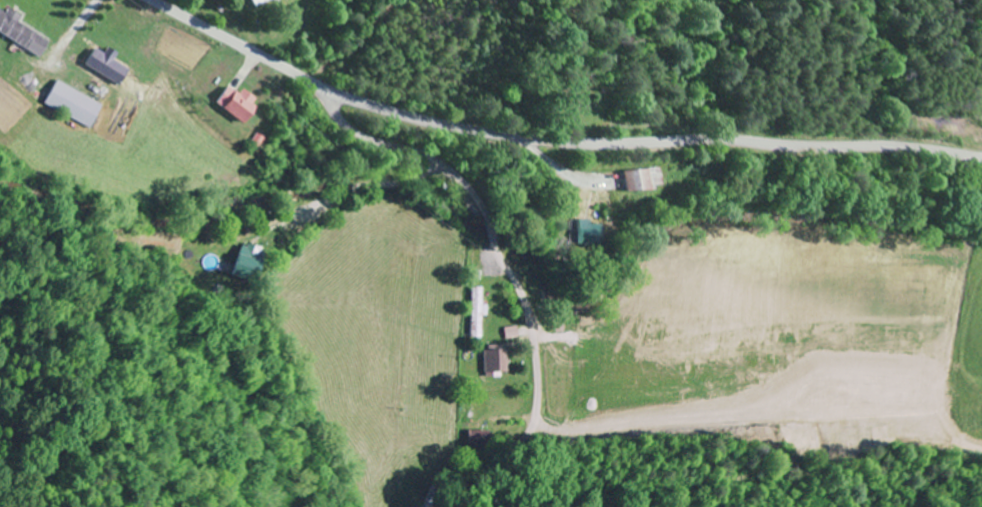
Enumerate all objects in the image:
building: (258, 1)
building: (20, 33)
building: (104, 65)
building: (233, 103)
building: (71, 104)
road: (656, 124)
road: (554, 140)
building: (636, 179)
building: (582, 232)
road: (504, 260)
building: (248, 261)
building: (476, 311)
road: (287, 324)
building: (511, 333)
building: (495, 360)
building: (843, 402)

